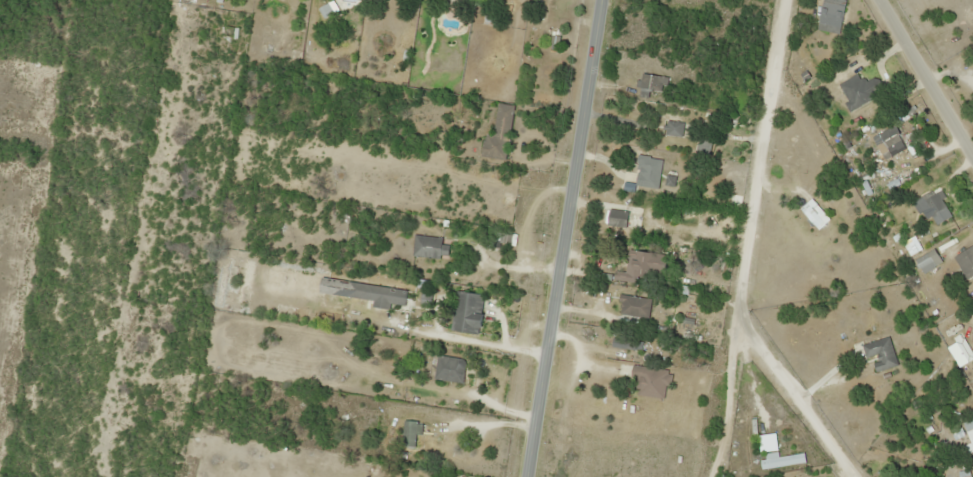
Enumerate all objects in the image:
building: (967, 14)
building: (830, 15)
building: (972, 67)
road: (925, 83)
building: (651, 86)
building: (860, 89)
building: (672, 127)
building: (498, 133)
building: (889, 141)
building: (646, 171)
building: (811, 216)
building: (610, 217)
road: (561, 238)
building: (428, 246)
building: (965, 261)
building: (647, 263)
building: (219, 284)
building: (633, 307)
building: (466, 312)
building: (879, 353)
building: (448, 369)
building: (650, 381)
building: (968, 425)
building: (370, 431)
building: (410, 432)
building: (781, 459)

